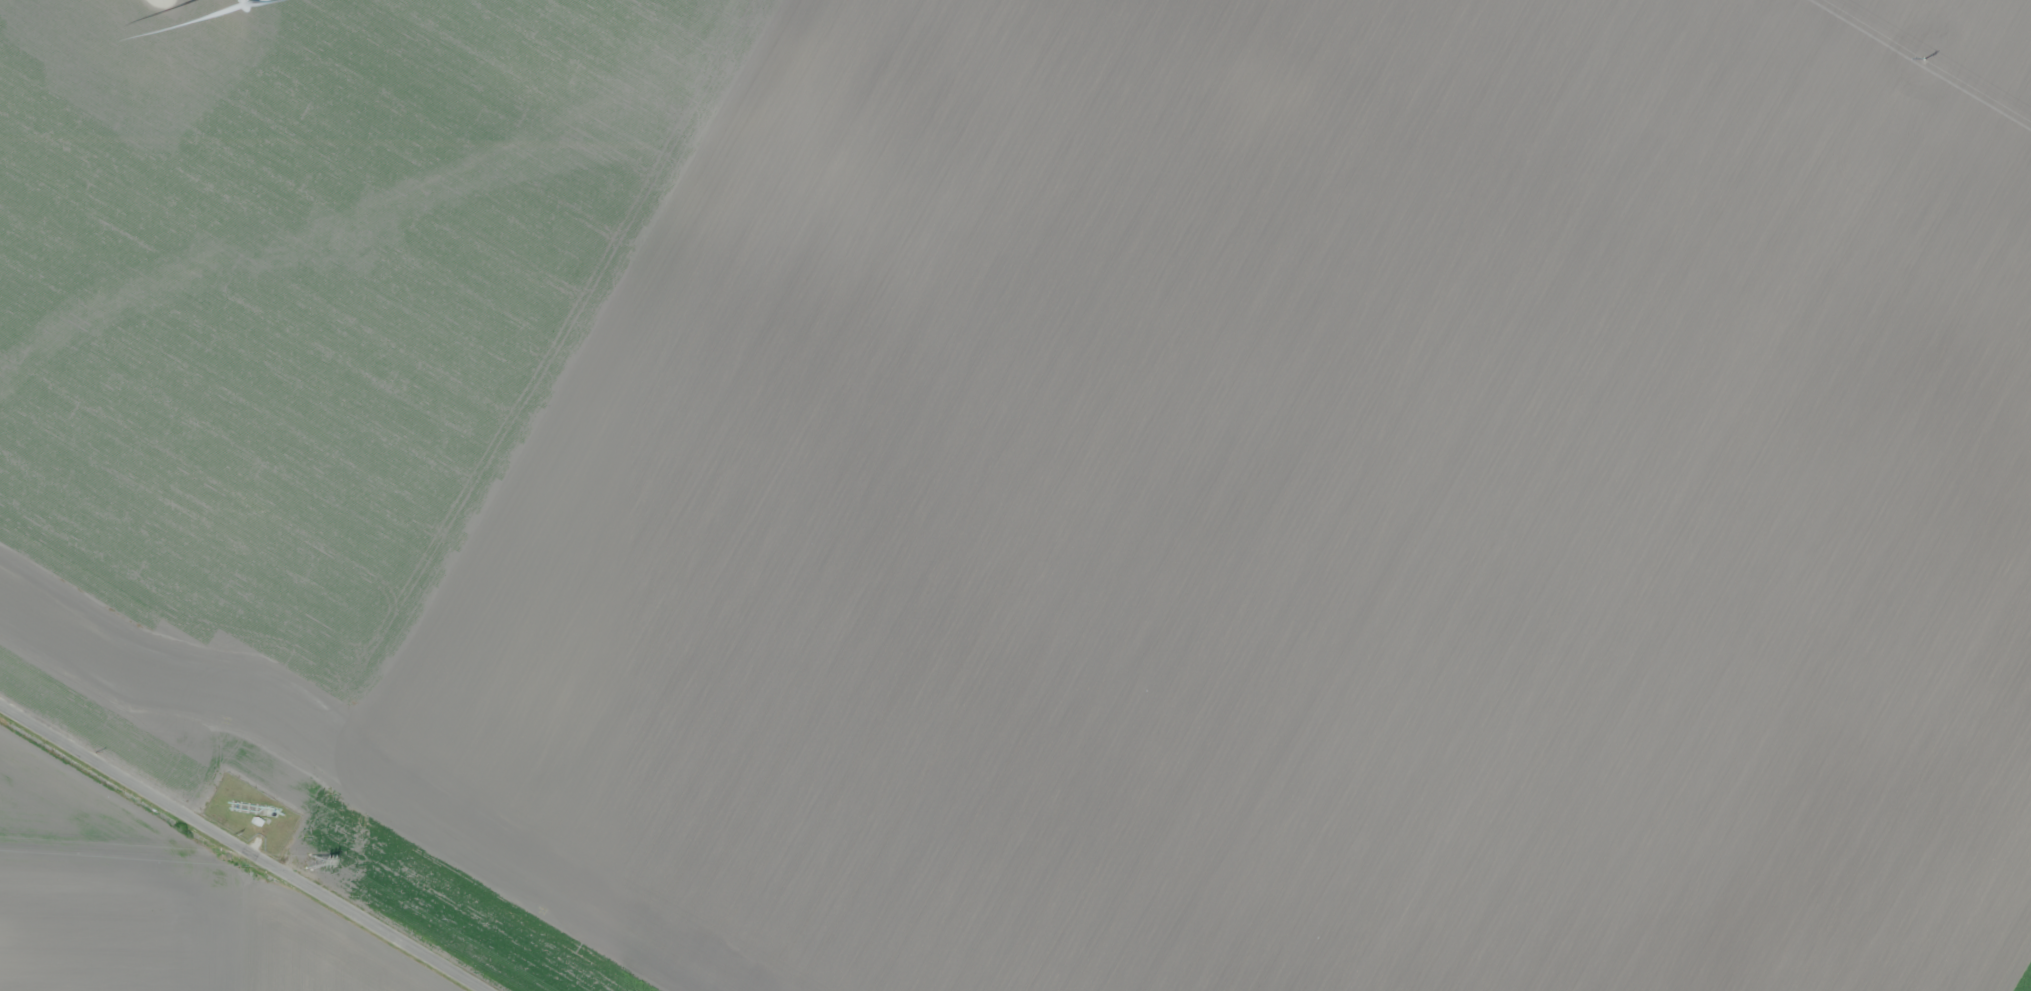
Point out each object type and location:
road: (235, 842)
power tower: (304, 860)

